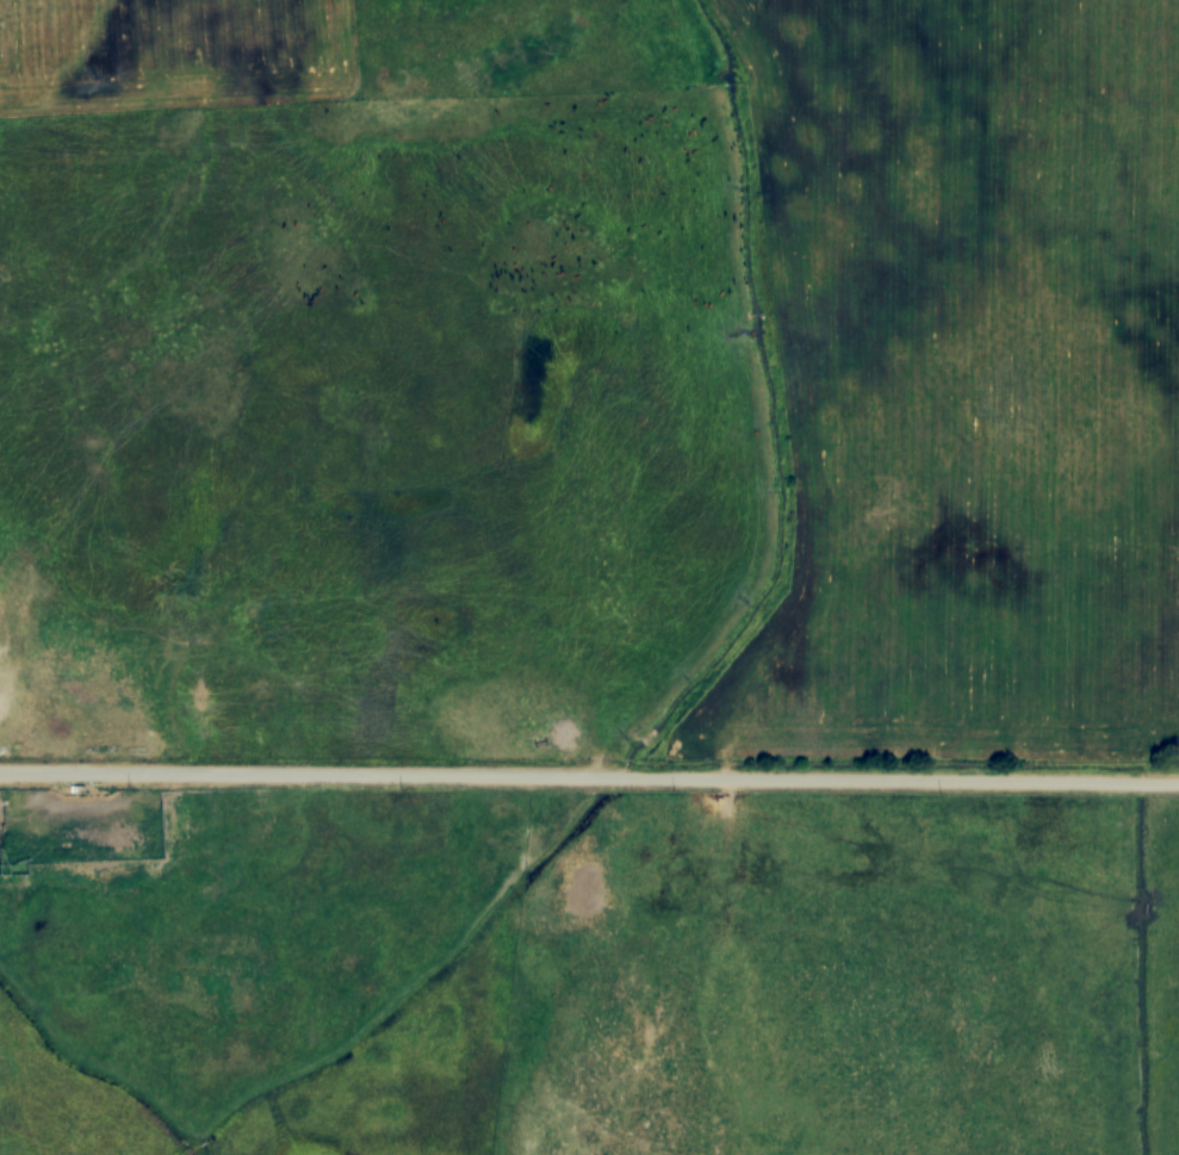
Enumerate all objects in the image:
road: (589, 796)

